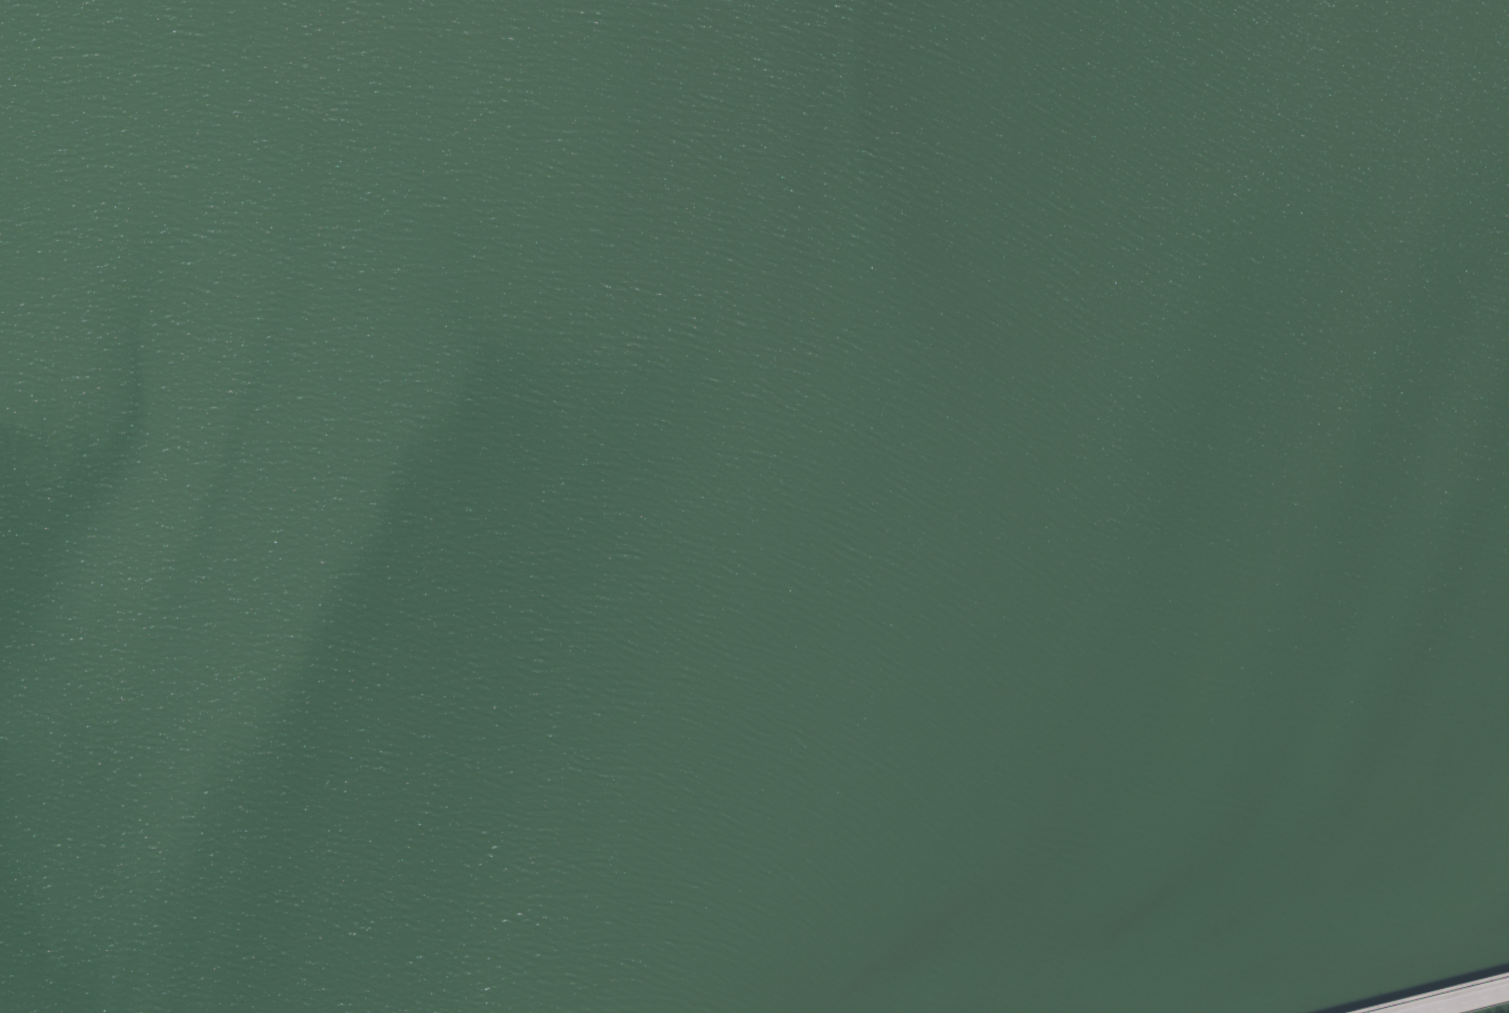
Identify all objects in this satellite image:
road: (1443, 996)
road: (1460, 1001)

